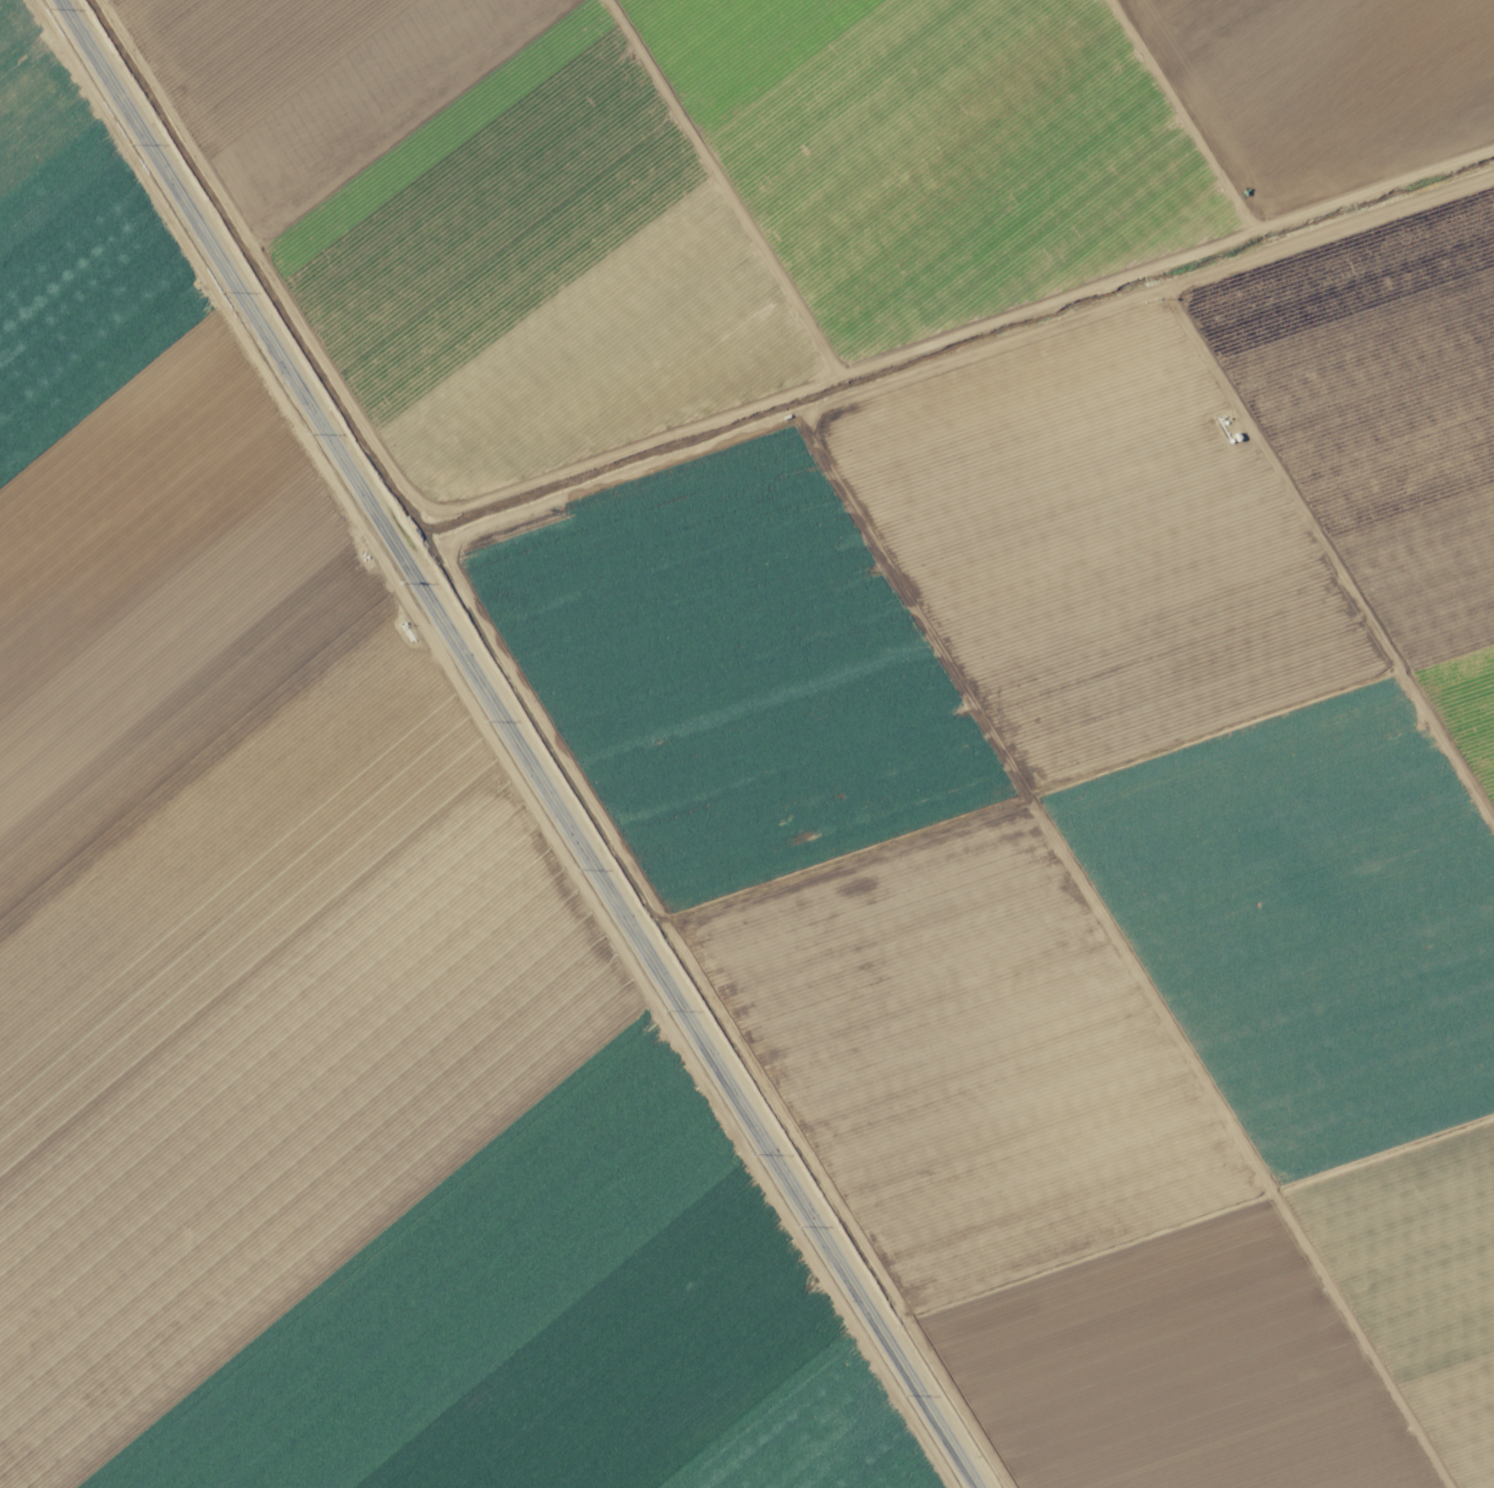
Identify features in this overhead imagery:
road: (516, 744)
crop: (747, 744)

